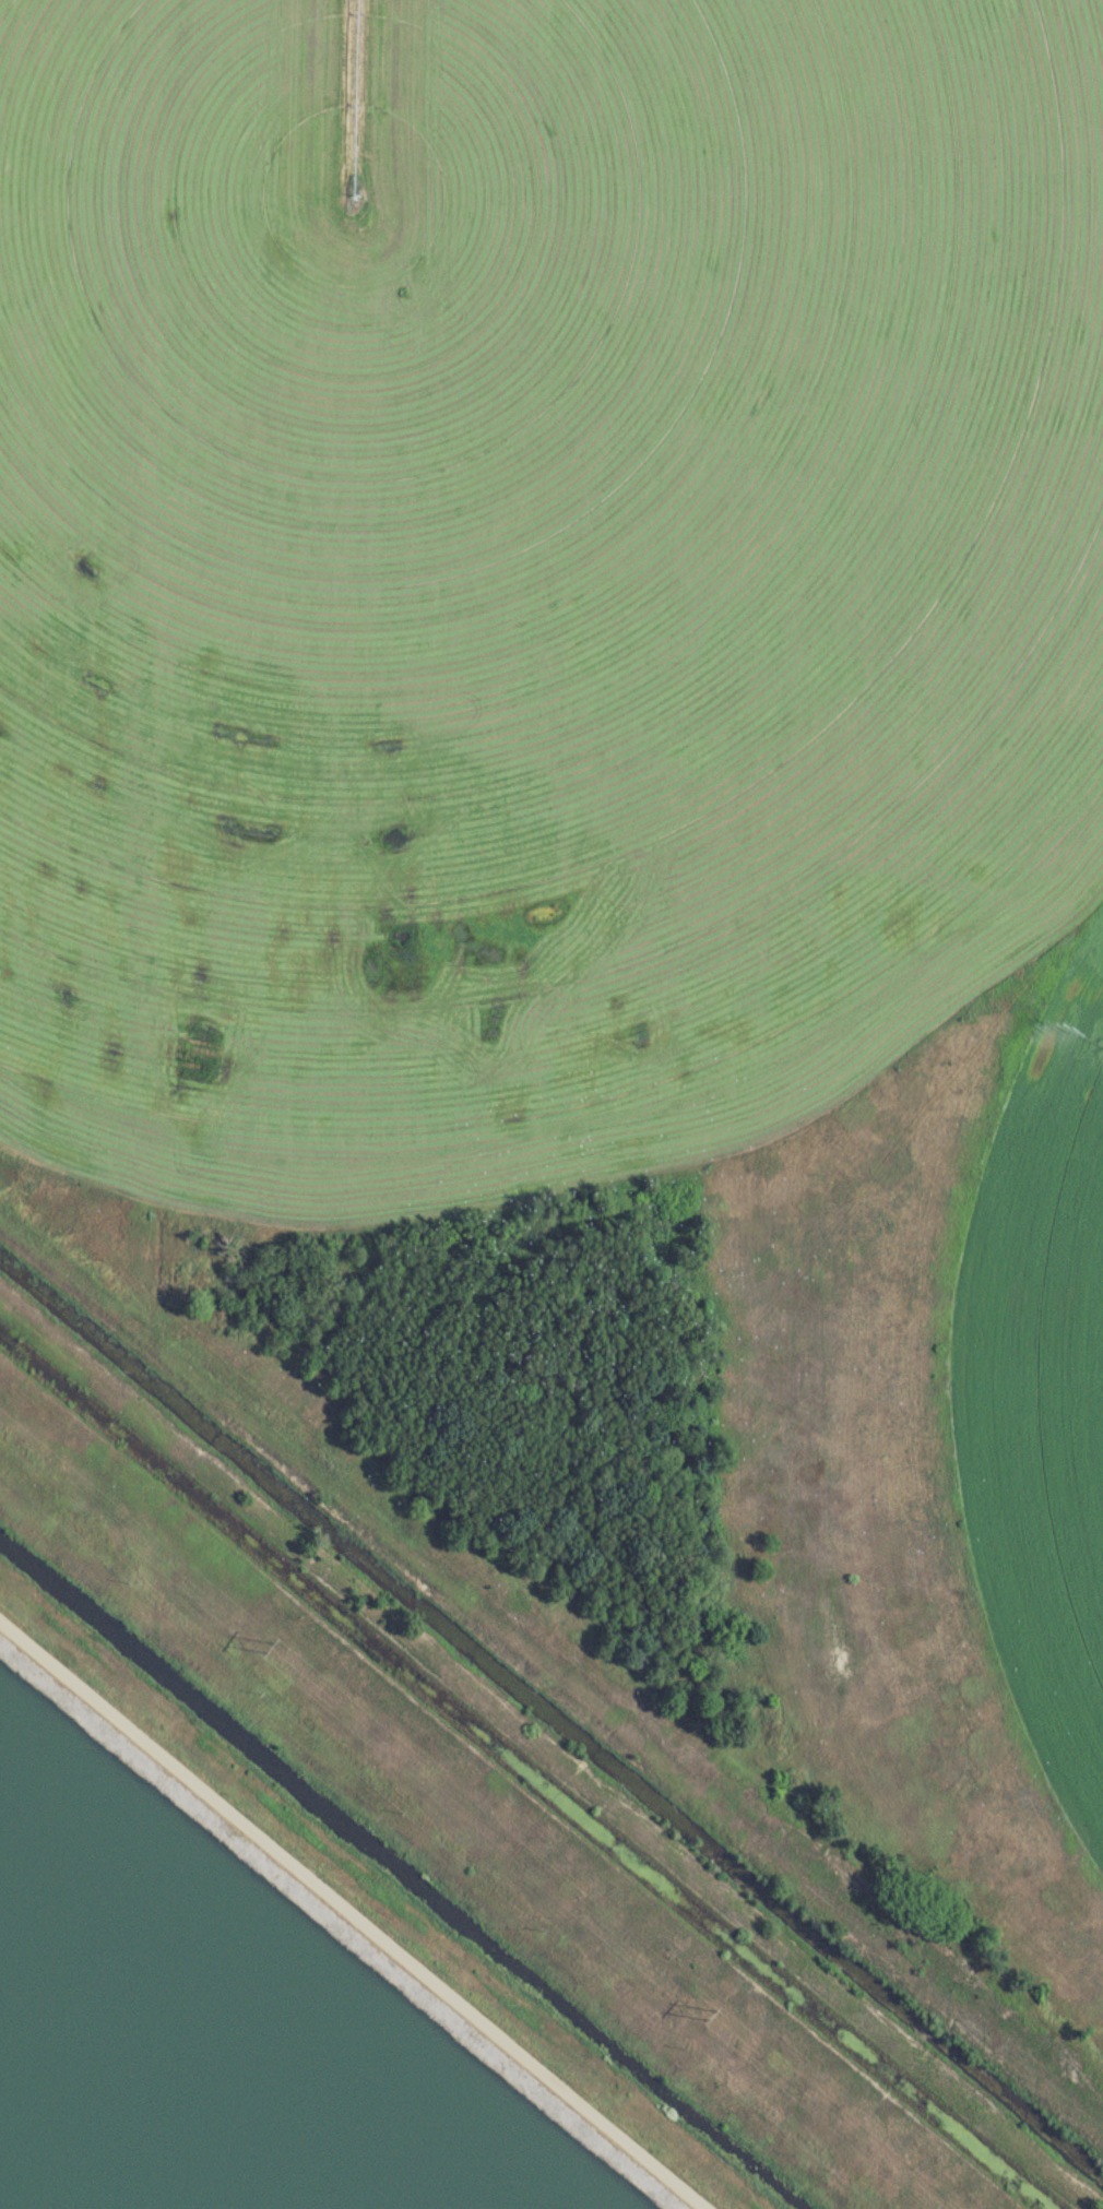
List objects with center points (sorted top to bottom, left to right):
wastewater plant: (551, 1104)
power tower: (266, 1646)
road: (354, 1916)
power tower: (705, 2008)

